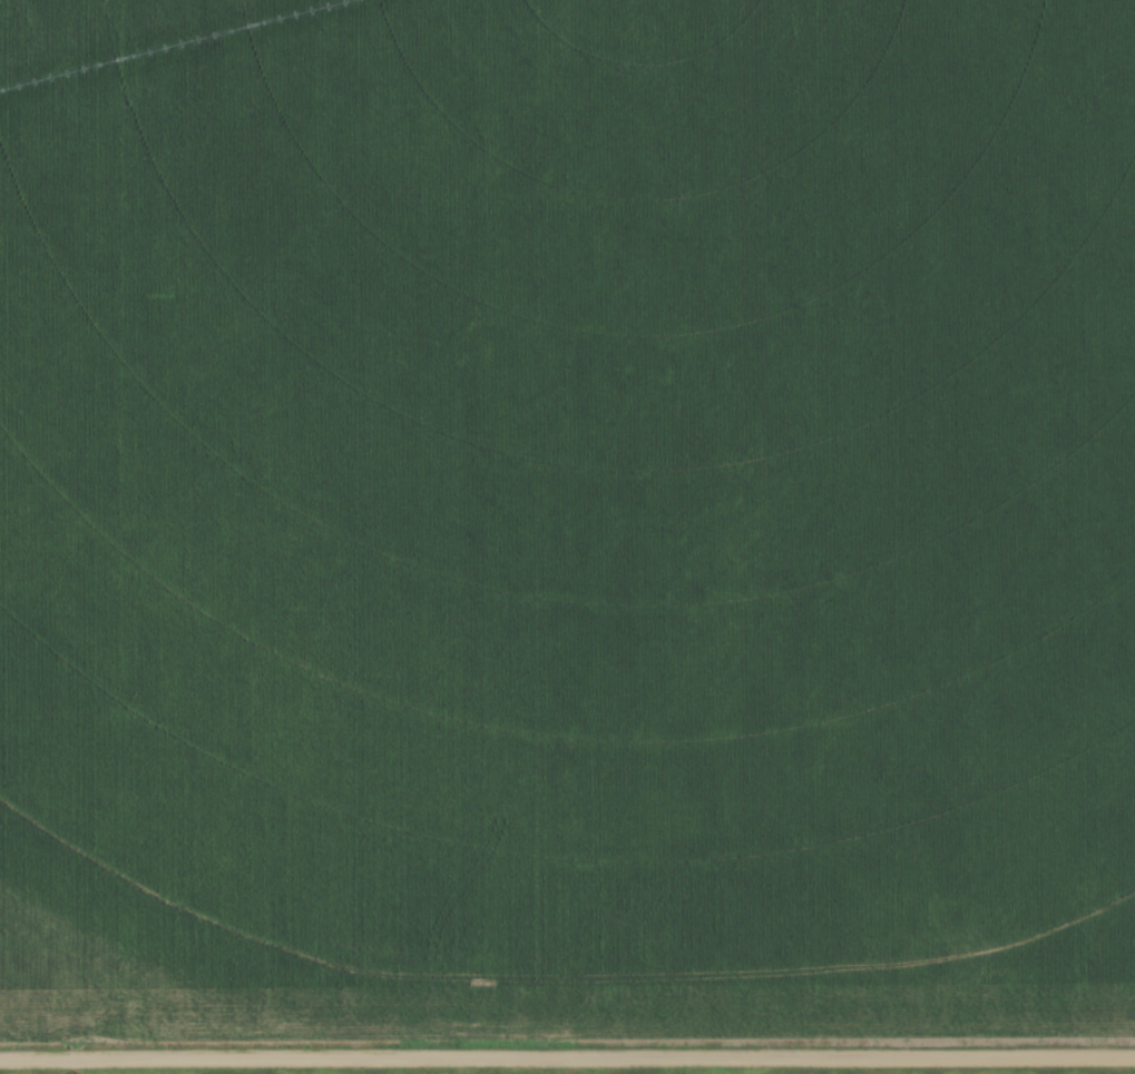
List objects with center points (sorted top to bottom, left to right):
road: (567, 1062)

